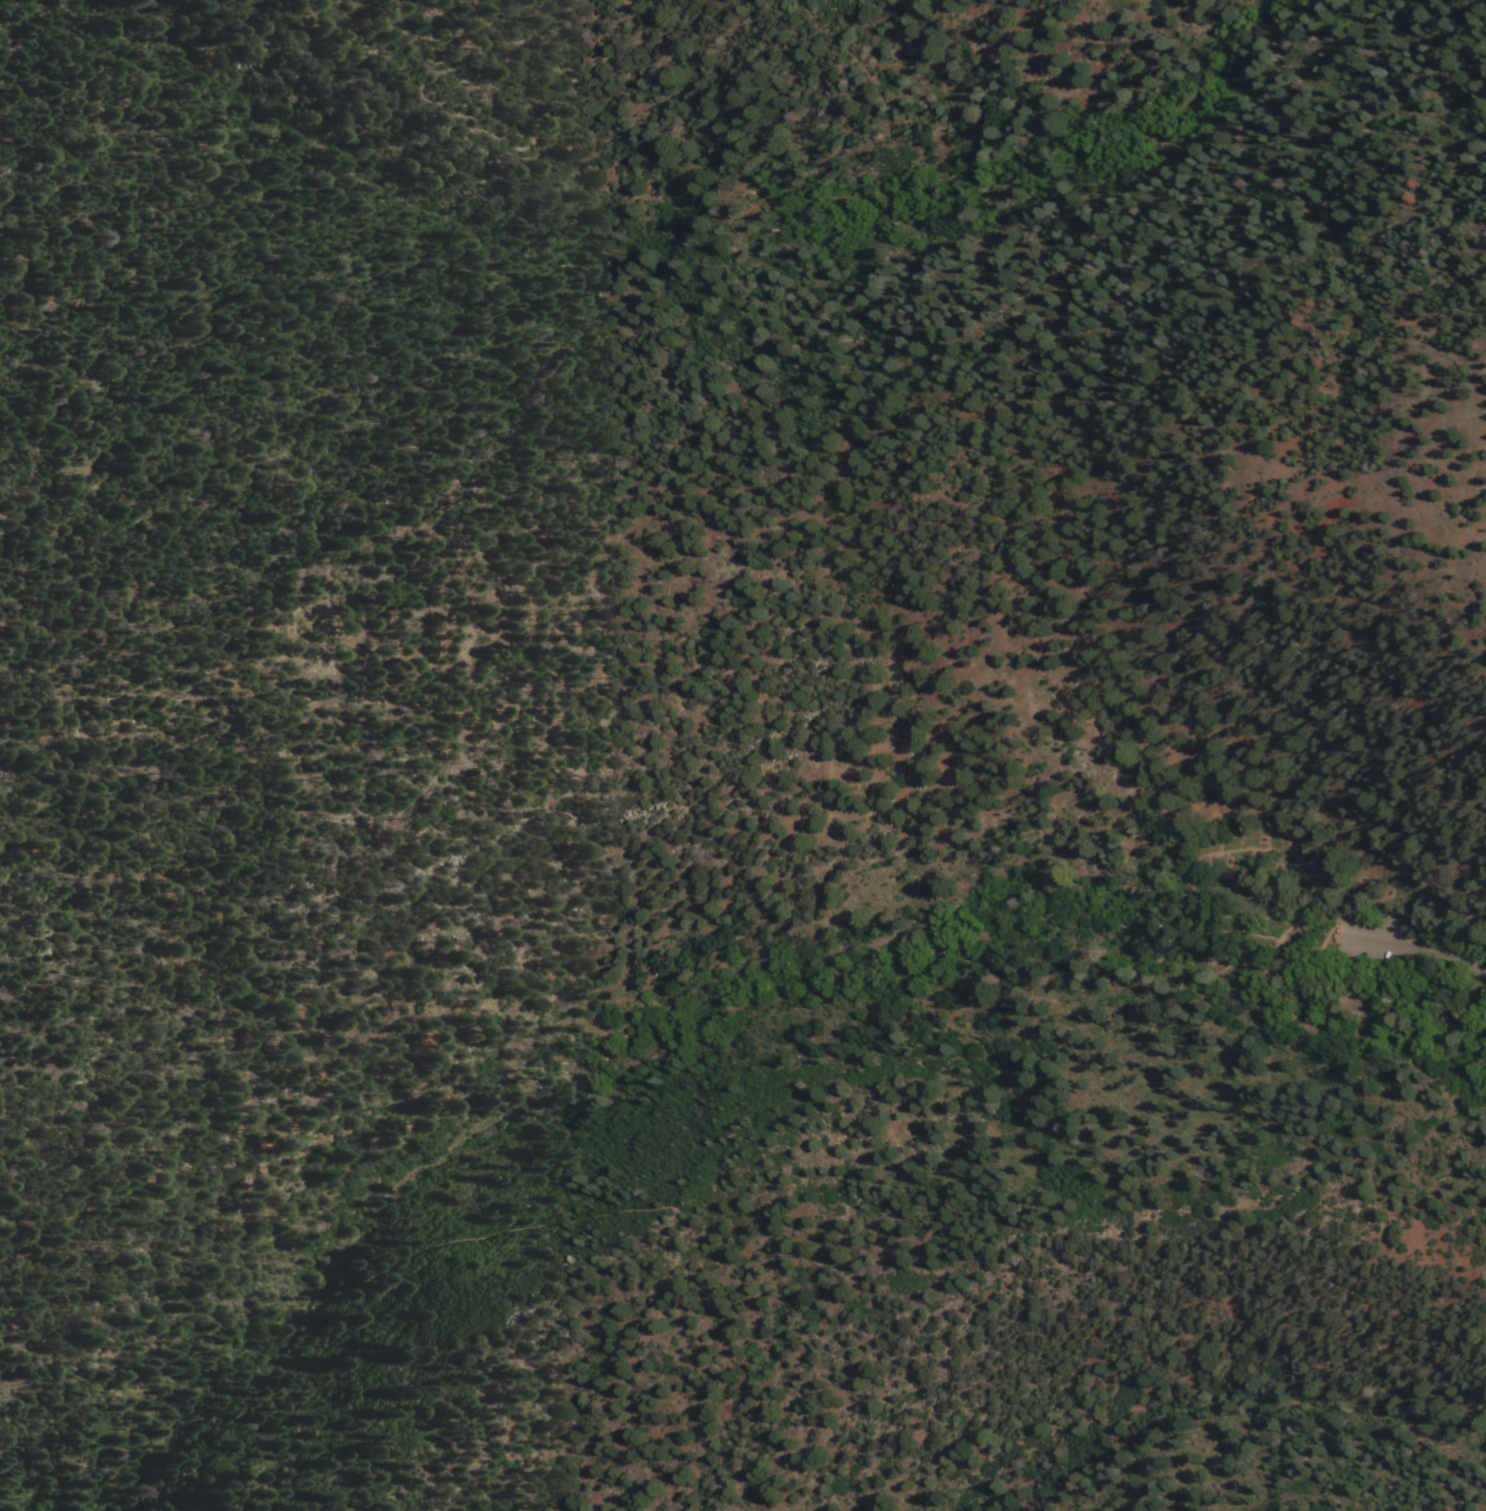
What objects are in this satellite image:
road: (903, 83)
road: (1035, 122)
road: (1255, 337)
road: (629, 840)
road: (1045, 848)
road: (1191, 878)
road: (1434, 905)
road: (1393, 912)
road: (1395, 928)
parking lot: (1374, 936)
road: (1418, 941)
road: (1278, 943)
road: (839, 949)
road: (1275, 952)
road: (1246, 958)
road: (535, 1093)
road: (156, 1446)

